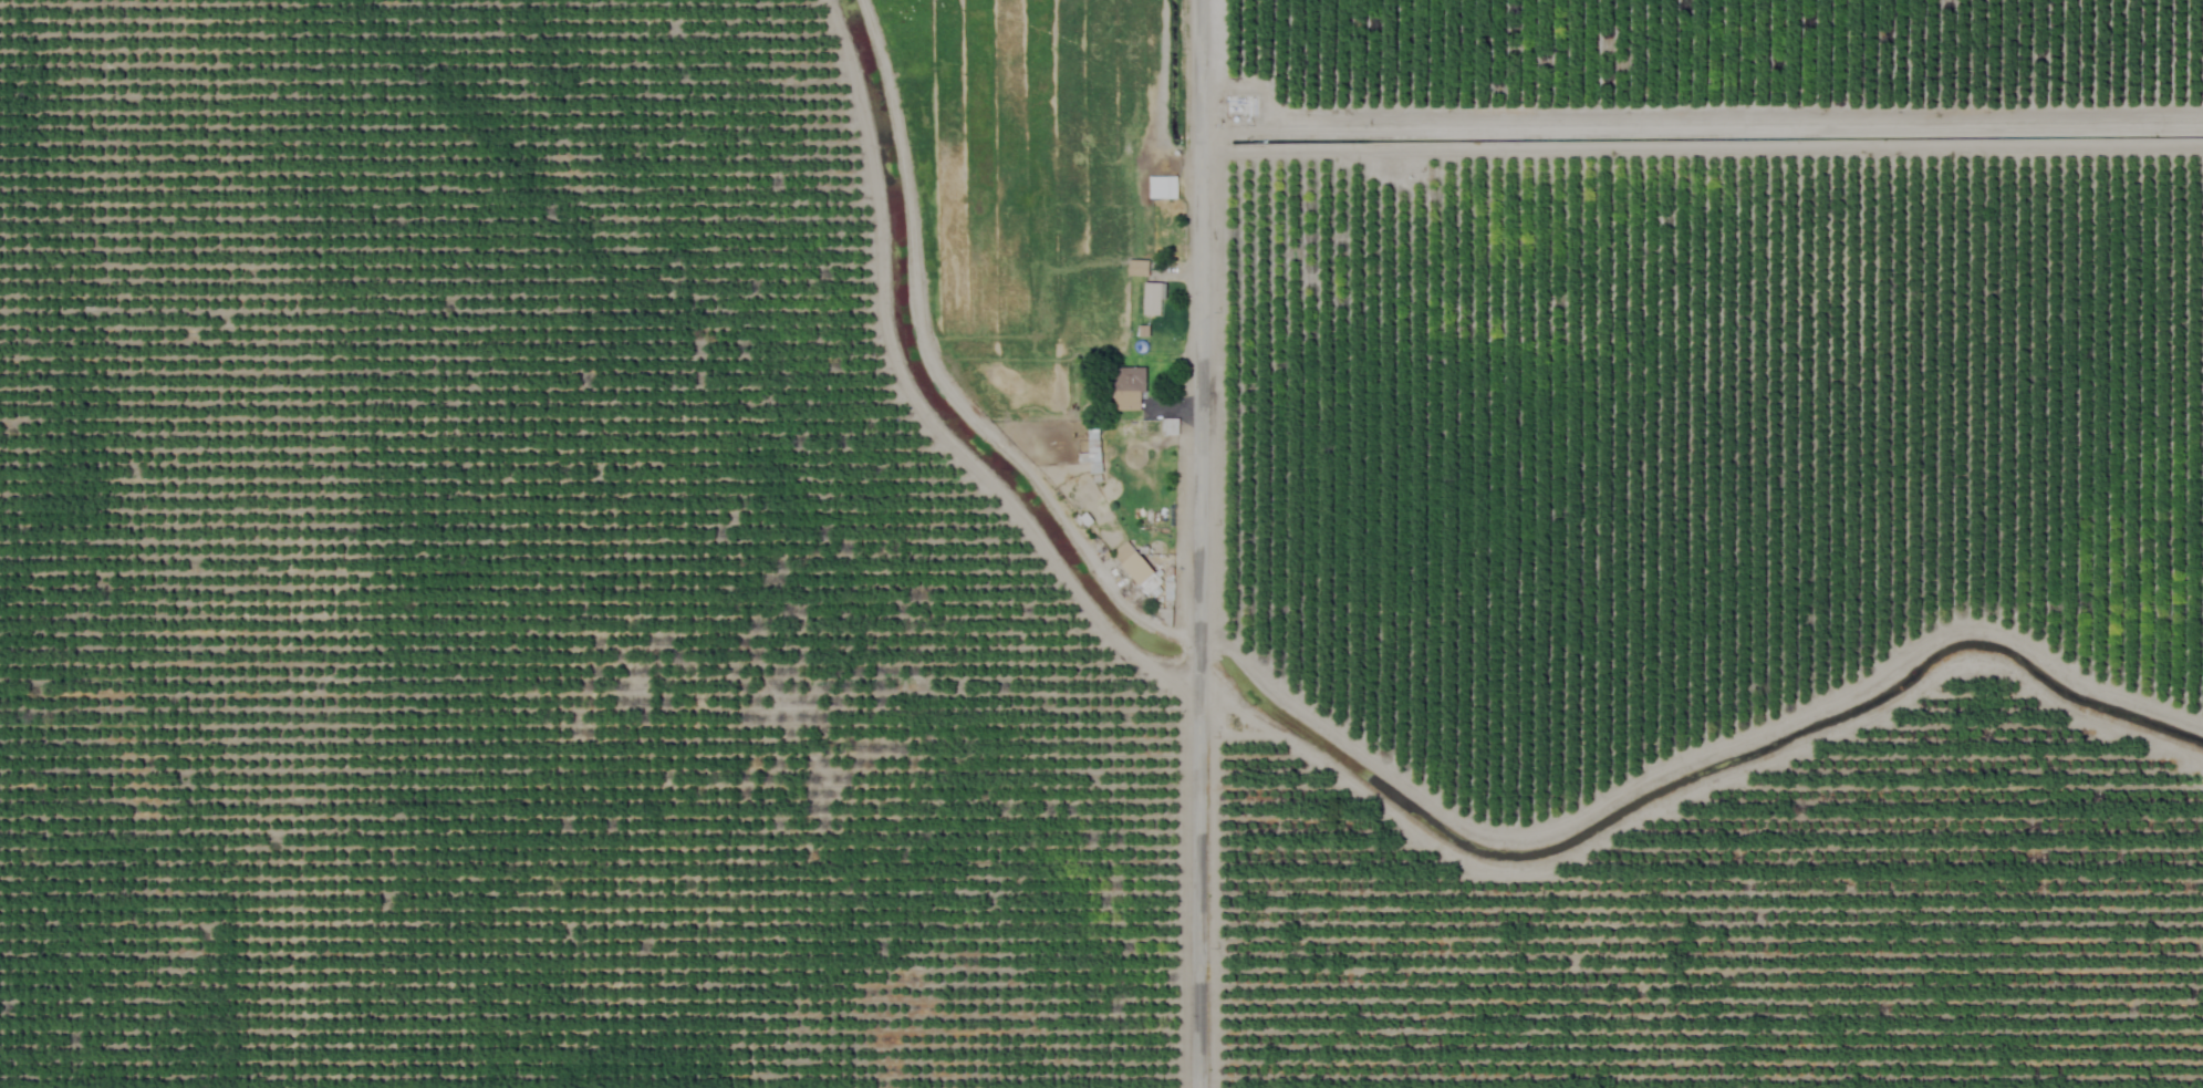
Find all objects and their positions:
building: (1160, 186)
building: (1135, 267)
building: (1151, 298)
building: (1124, 386)
crop: (1101, 543)
road: (1194, 543)
road: (1694, 798)

